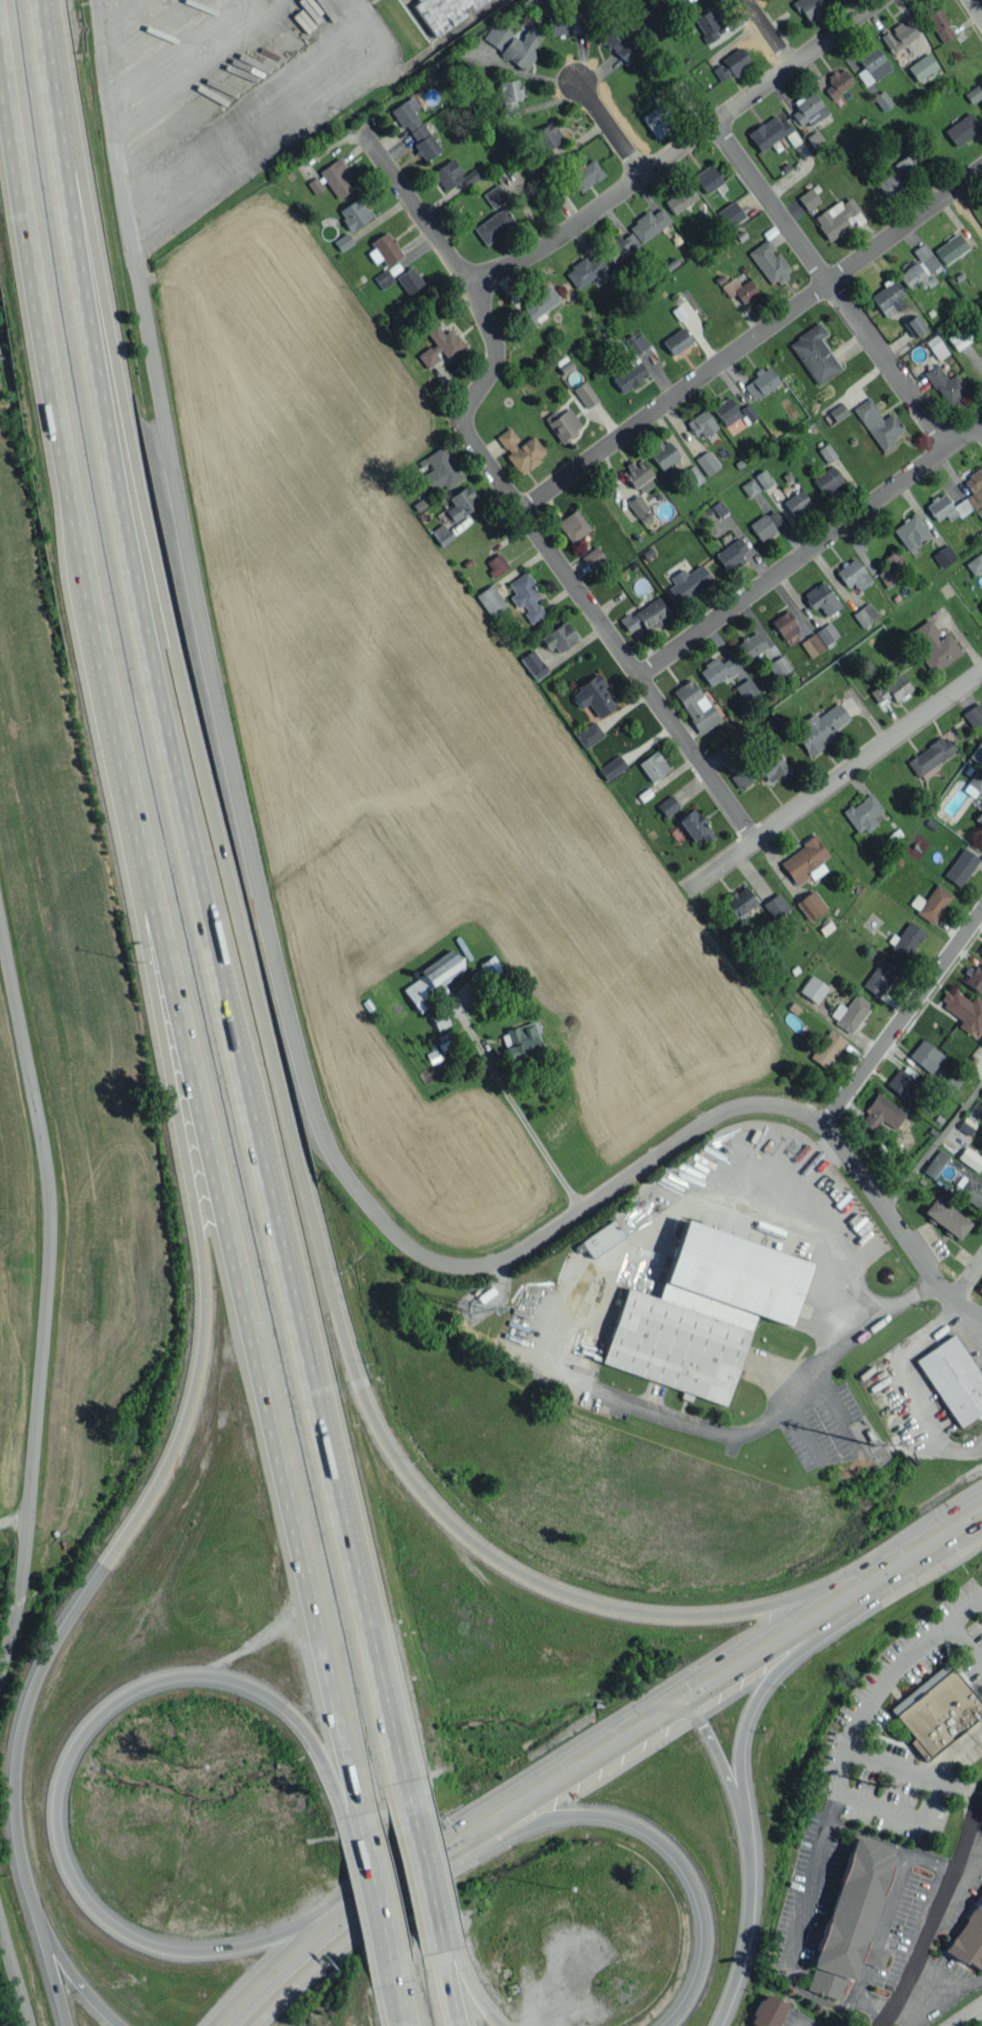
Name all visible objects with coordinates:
road: (976, 8)
building: (809, 9)
building: (444, 11)
building: (565, 23)
building: (940, 24)
building: (707, 26)
road: (764, 31)
building: (898, 35)
building: (614, 41)
building: (513, 43)
building: (730, 64)
building: (871, 65)
building: (921, 66)
building: (838, 82)
building: (973, 93)
building: (509, 97)
building: (882, 100)
building: (981, 104)
building: (807, 109)
building: (406, 113)
building: (658, 120)
road: (606, 125)
building: (962, 128)
building: (768, 132)
building: (546, 136)
building: (424, 142)
road: (110, 143)
road: (671, 143)
building: (585, 173)
building: (896, 174)
building: (449, 175)
building: (335, 178)
building: (707, 178)
building: (315, 185)
building: (494, 195)
building: (680, 198)
building: (808, 199)
building: (353, 213)
building: (729, 214)
building: (835, 217)
building: (648, 224)
building: (493, 225)
building: (342, 241)
building: (620, 246)
building: (950, 248)
building: (383, 249)
building: (768, 261)
building: (919, 268)
building: (585, 270)
building: (383, 278)
building: (409, 280)
road: (828, 283)
building: (739, 289)
building: (888, 297)
building: (538, 304)
building: (914, 325)
road: (748, 337)
building: (958, 338)
building: (676, 340)
building: (635, 342)
building: (440, 346)
building: (936, 346)
building: (814, 353)
building: (629, 375)
building: (760, 382)
building: (946, 385)
building: (585, 393)
building: (726, 411)
building: (701, 423)
building: (564, 424)
building: (878, 424)
road: (980, 428)
building: (520, 449)
building: (826, 452)
building: (663, 453)
building: (707, 461)
building: (439, 469)
building: (638, 476)
building: (691, 476)
building: (763, 478)
building: (827, 479)
building: (749, 487)
road: (501, 490)
building: (971, 499)
building: (796, 502)
building: (461, 503)
building: (637, 505)
building: (765, 523)
building: (572, 525)
building: (910, 532)
building: (441, 534)
road: (809, 551)
building: (731, 554)
building: (943, 556)
building: (592, 557)
building: (974, 563)
building: (496, 564)
building: (892, 568)
building: (853, 574)
building: (687, 582)
building: (525, 596)
building: (821, 598)
building: (490, 600)
building: (981, 607)
building: (865, 614)
building: (645, 615)
building: (784, 625)
building: (826, 633)
building: (559, 637)
building: (812, 644)
building: (751, 645)
building: (935, 646)
building: (533, 664)
building: (779, 666)
building: (716, 670)
building: (891, 687)
building: (745, 688)
building: (592, 696)
building: (695, 705)
building: (973, 714)
building: (820, 728)
building: (929, 755)
building: (653, 765)
building: (612, 767)
building: (761, 768)
building: (976, 780)
road: (833, 784)
building: (667, 805)
building: (862, 813)
building: (979, 818)
building: (694, 825)
building: (805, 861)
building: (960, 866)
building: (739, 901)
building: (934, 903)
road: (211, 904)
building: (810, 904)
building: (774, 905)
building: (906, 940)
building: (981, 952)
road: (164, 967)
building: (492, 967)
building: (879, 976)
building: (432, 979)
building: (812, 988)
building: (964, 1010)
building: (850, 1012)
building: (438, 1018)
road: (901, 1019)
building: (445, 1040)
building: (980, 1040)
building: (520, 1042)
building: (827, 1048)
building: (925, 1055)
building: (902, 1082)
building: (949, 1084)
building: (981, 1094)
road: (510, 1106)
building: (881, 1113)
road: (322, 1133)
road: (933, 1142)
building: (970, 1158)
building: (935, 1163)
building: (971, 1192)
building: (946, 1217)
building: (601, 1238)
road: (968, 1282)
road: (46, 1288)
building: (980, 1288)
building: (702, 1312)
road: (555, 1357)
building: (953, 1379)
road: (898, 1387)
road: (828, 1401)
road: (185, 1415)
road: (912, 1537)
road: (496, 1569)
road: (820, 1596)
road: (253, 1639)
road: (962, 1643)
road: (728, 1653)
road: (876, 1687)
traffic signals: (661, 1698)
building: (937, 1710)
road: (748, 1713)
road: (951, 1746)
road: (66, 1762)
road: (912, 1769)
road: (492, 1801)
road: (899, 1808)
road: (742, 1823)
road: (658, 1835)
road: (934, 1858)
road: (427, 1864)
road: (803, 1891)
road: (893, 1898)
road: (372, 1904)
road: (940, 1913)
building: (849, 1917)
building: (968, 1938)
road: (47, 1944)
road: (872, 1955)
road: (272, 1968)
road: (14, 1972)
road: (450, 1976)
road: (469, 1977)
road: (81, 1982)
road: (860, 1983)
road: (393, 1996)
road: (728, 2001)
road: (870, 2004)
building: (766, 2011)
road: (963, 2013)

